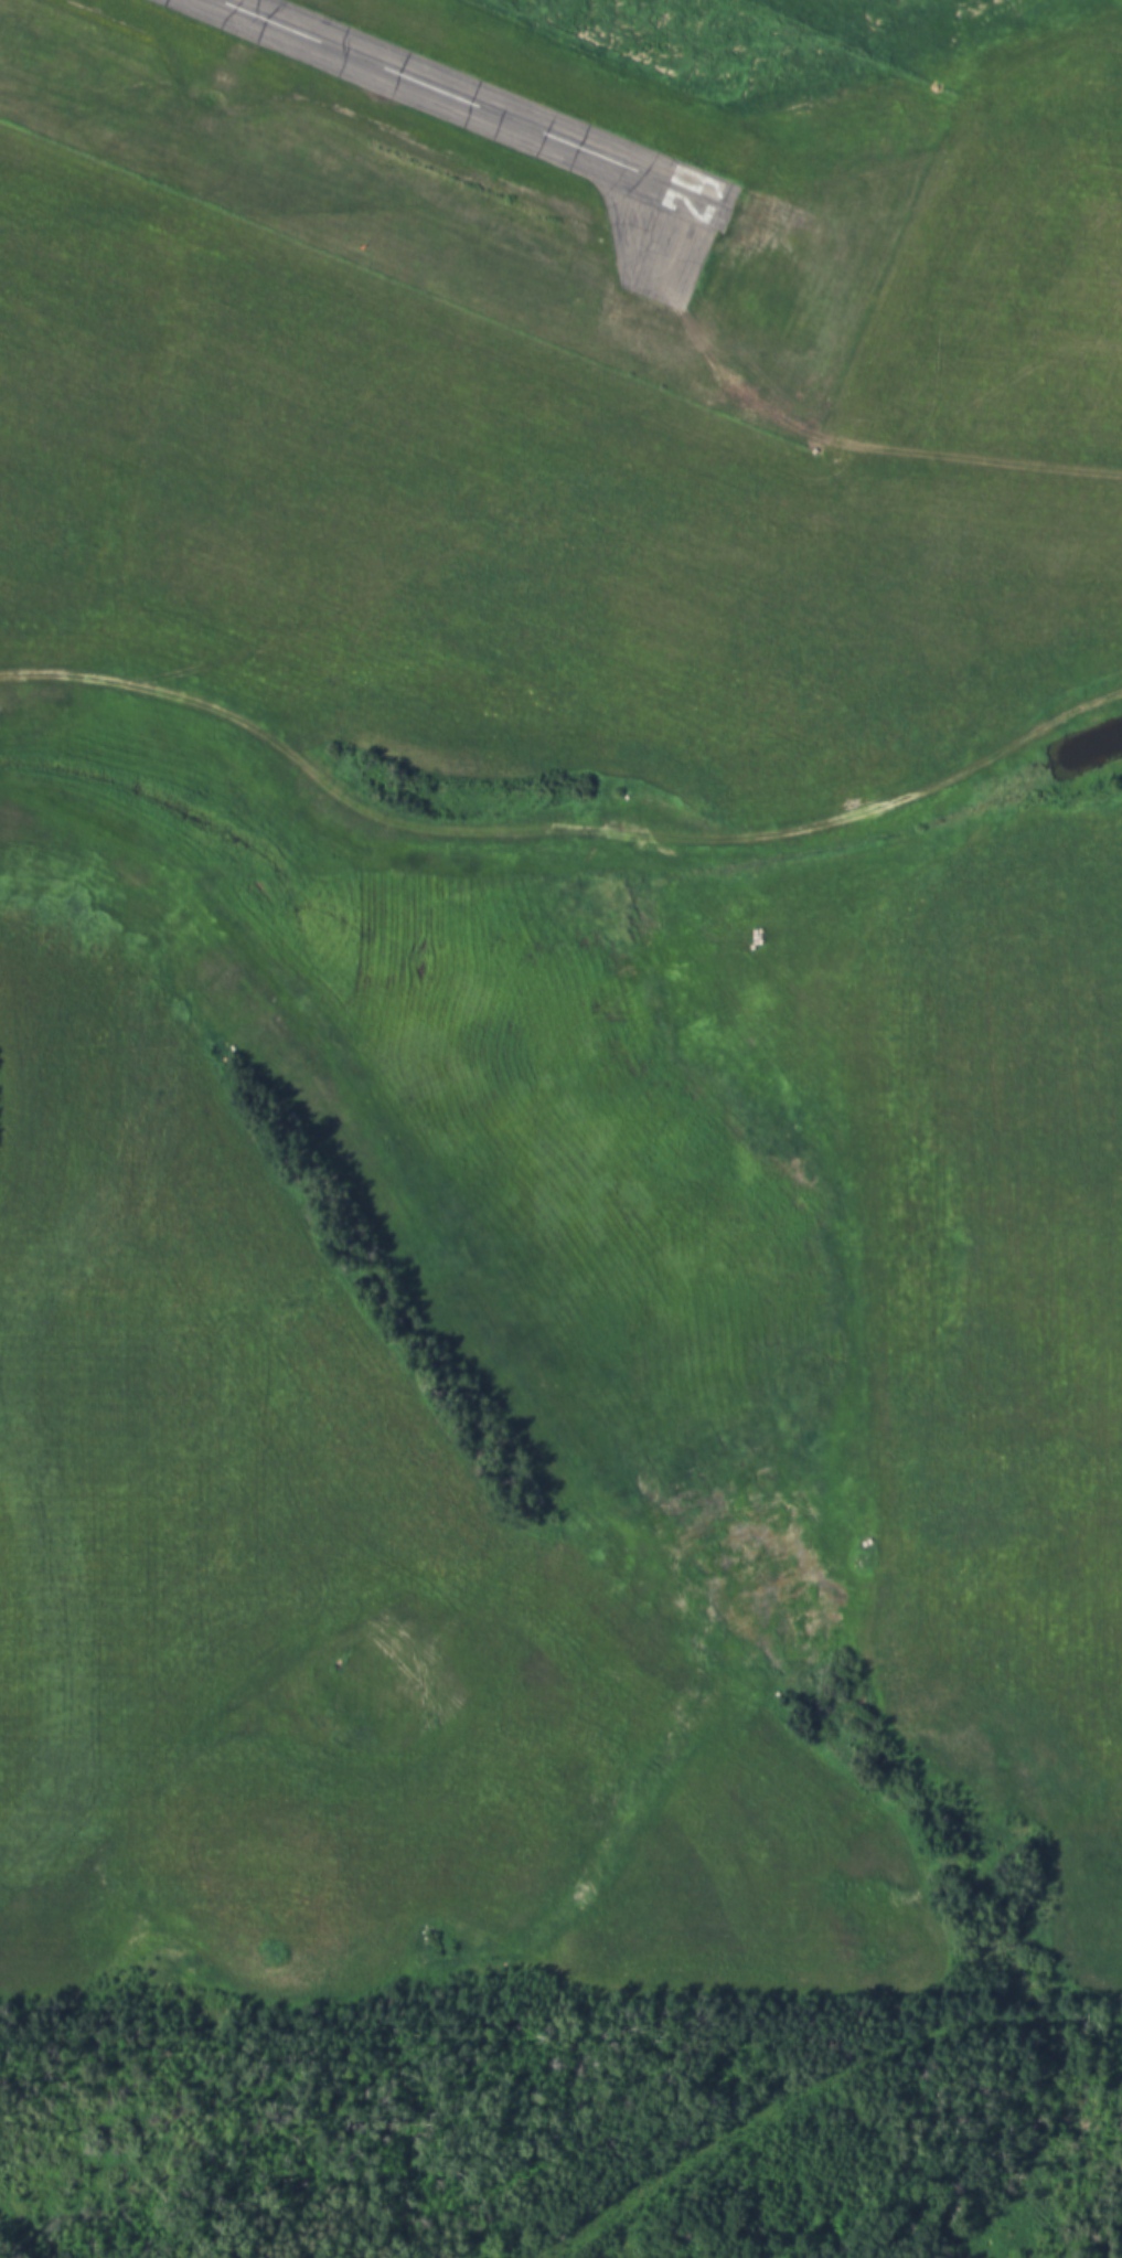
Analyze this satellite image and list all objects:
airport runway: (471, 105)
airport: (548, 157)

